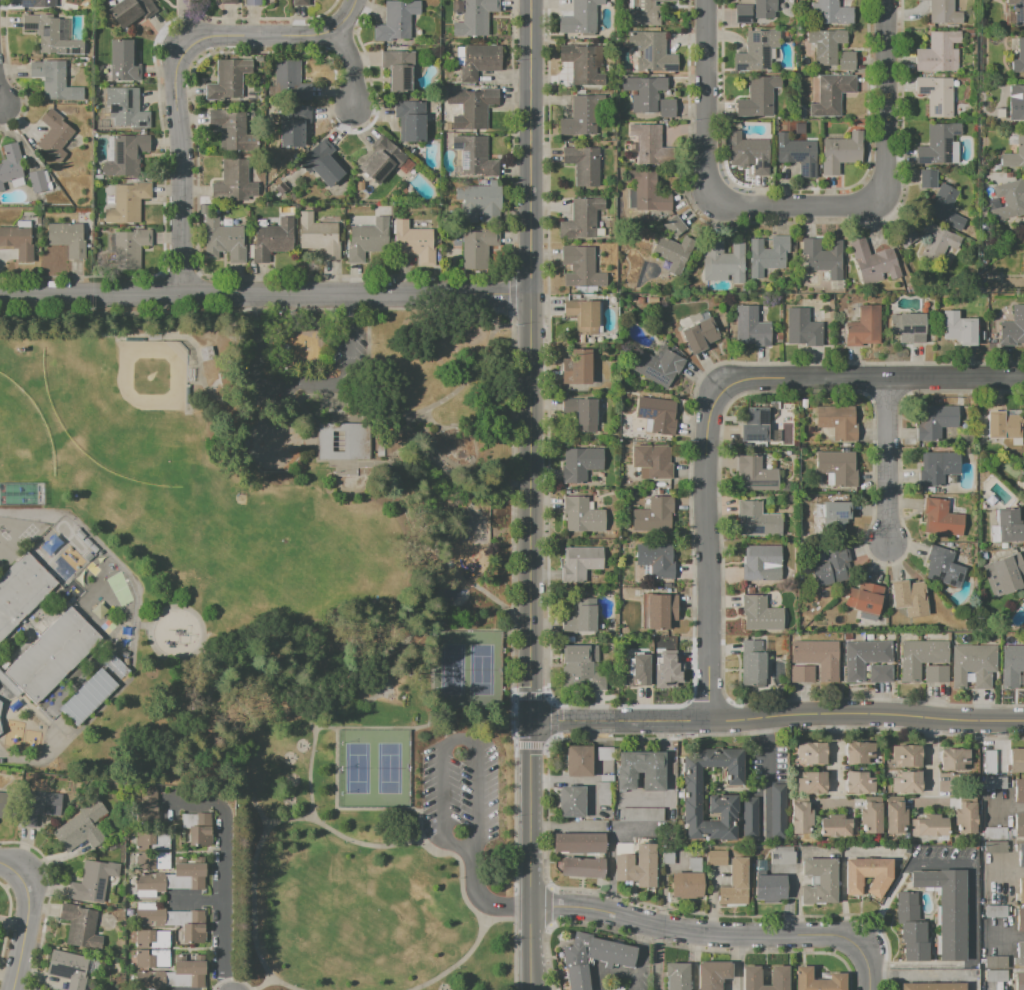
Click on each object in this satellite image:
building: (229, 1)
building: (253, 2)
building: (34, 3)
building: (300, 3)
building: (764, 9)
building: (131, 11)
building: (644, 13)
building: (743, 13)
building: (831, 13)
building: (945, 13)
building: (1017, 13)
building: (474, 17)
building: (580, 17)
building: (396, 22)
building: (52, 35)
building: (826, 45)
building: (756, 51)
building: (652, 53)
building: (938, 53)
building: (1017, 54)
building: (847, 60)
building: (480, 61)
building: (123, 62)
building: (584, 65)
road: (349, 66)
building: (398, 70)
road: (175, 76)
building: (228, 79)
building: (51, 81)
building: (289, 82)
building: (644, 93)
building: (832, 94)
building: (937, 95)
building: (758, 97)
road: (883, 99)
building: (1017, 99)
road: (0, 101)
building: (125, 108)
building: (471, 108)
building: (668, 108)
building: (76, 114)
building: (580, 116)
building: (410, 123)
building: (294, 128)
building: (228, 129)
building: (54, 135)
building: (937, 143)
building: (1020, 143)
building: (650, 145)
building: (841, 152)
building: (749, 153)
building: (797, 154)
building: (127, 156)
building: (474, 157)
building: (385, 161)
building: (11, 163)
building: (325, 163)
building: (583, 165)
road: (710, 177)
building: (927, 179)
building: (37, 181)
building: (231, 182)
building: (646, 192)
building: (1008, 199)
building: (478, 201)
building: (128, 204)
building: (944, 208)
building: (580, 221)
building: (674, 227)
building: (318, 236)
building: (906, 237)
building: (67, 238)
building: (272, 239)
building: (367, 240)
building: (224, 241)
building: (17, 242)
building: (414, 243)
building: (936, 243)
building: (478, 248)
building: (131, 249)
building: (674, 252)
building: (769, 256)
building: (824, 257)
building: (723, 263)
building: (874, 263)
building: (581, 267)
road: (512, 294)
road: (265, 295)
road: (511, 313)
building: (583, 315)
road: (497, 317)
building: (750, 327)
building: (866, 328)
building: (909, 328)
building: (1012, 328)
building: (803, 329)
building: (959, 329)
building: (697, 332)
parking lot: (348, 348)
building: (206, 353)
road: (530, 360)
building: (577, 367)
building: (660, 368)
road: (200, 377)
road: (875, 378)
building: (225, 379)
road: (213, 386)
road: (296, 387)
road: (511, 396)
road: (334, 398)
park: (121, 404)
building: (581, 413)
building: (656, 414)
building: (836, 421)
building: (936, 421)
building: (1002, 424)
building: (755, 426)
road: (316, 438)
park: (22, 439)
building: (343, 441)
building: (652, 460)
road: (887, 460)
road: (344, 462)
building: (579, 464)
building: (837, 466)
building: (937, 468)
flagpole: (334, 472)
building: (756, 473)
road: (431, 478)
building: (582, 515)
building: (653, 516)
building: (835, 517)
building: (942, 518)
building: (757, 519)
building: (1009, 525)
park: (267, 531)
road: (706, 550)
building: (656, 559)
road: (437, 564)
building: (579, 564)
building: (762, 564)
building: (943, 567)
building: (830, 568)
building: (1007, 572)
park: (118, 588)
building: (21, 590)
road: (490, 597)
building: (865, 598)
building: (910, 601)
road: (136, 610)
park: (304, 611)
building: (658, 611)
building: (759, 612)
road: (154, 618)
building: (580, 618)
road: (143, 625)
road: (415, 630)
road: (470, 630)
building: (422, 637)
road: (214, 651)
building: (802, 652)
building: (878, 652)
building: (934, 652)
building: (53, 655)
building: (753, 659)
building: (826, 660)
building: (855, 661)
building: (910, 662)
building: (655, 664)
building: (961, 664)
building: (583, 665)
building: (983, 665)
building: (1011, 665)
building: (1023, 668)
park: (469, 669)
building: (634, 670)
building: (802, 674)
building: (880, 674)
building: (935, 674)
road: (298, 676)
road: (189, 681)
building: (9, 684)
building: (640, 690)
road: (512, 695)
road: (529, 695)
road: (545, 695)
building: (89, 696)
road: (549, 697)
road: (552, 703)
building: (0, 704)
road: (34, 708)
road: (469, 715)
road: (308, 720)
road: (552, 720)
traffic signals: (532, 721)
road: (778, 721)
road: (429, 725)
road: (363, 728)
road: (450, 729)
road: (552, 738)
road: (457, 740)
road: (550, 743)
road: (528, 745)
road: (544, 745)
road: (766, 747)
building: (812, 752)
building: (858, 752)
building: (604, 753)
building: (906, 756)
road: (933, 756)
road: (837, 759)
building: (954, 759)
building: (578, 760)
building: (1016, 760)
road: (20, 762)
building: (989, 762)
park: (372, 770)
building: (640, 771)
building: (605, 778)
road: (667, 779)
building: (859, 782)
building: (905, 782)
building: (995, 782)
building: (811, 783)
building: (692, 790)
building: (1019, 790)
building: (603, 793)
parking lot: (460, 794)
building: (571, 801)
building: (153, 804)
building: (5, 805)
building: (39, 806)
road: (256, 807)
road: (1004, 807)
building: (776, 810)
building: (640, 814)
building: (870, 814)
building: (894, 814)
building: (965, 816)
building: (748, 818)
building: (800, 818)
building: (1018, 824)
road: (420, 825)
building: (837, 825)
building: (928, 825)
building: (81, 827)
building: (198, 828)
building: (994, 832)
building: (153, 838)
road: (262, 838)
road: (22, 843)
building: (578, 843)
building: (995, 846)
building: (763, 852)
building: (1021, 854)
road: (532, 855)
building: (781, 856)
building: (666, 857)
building: (717, 857)
building: (153, 861)
building: (694, 863)
building: (635, 864)
building: (581, 866)
building: (759, 866)
road: (32, 868)
road: (1003, 871)
road: (461, 872)
building: (866, 875)
building: (171, 880)
building: (819, 880)
building: (92, 881)
road: (224, 882)
building: (734, 883)
building: (686, 885)
road: (969, 885)
building: (769, 887)
building: (1020, 888)
road: (481, 900)
road: (197, 902)
building: (907, 906)
building: (946, 908)
building: (994, 912)
road: (500, 919)
building: (1020, 919)
building: (172, 920)
road: (26, 921)
building: (80, 927)
building: (912, 931)
road: (696, 934)
road: (1020, 937)
building: (152, 939)
building: (916, 951)
building: (1020, 953)
road: (1017, 956)
building: (592, 957)
building: (152, 958)
building: (996, 962)
road: (457, 964)
road: (868, 967)
building: (67, 968)
building: (712, 974)
building: (172, 976)
building: (677, 976)
building: (778, 976)
building: (995, 976)
building: (816, 980)
building: (1019, 981)
road: (1000, 984)
road: (264, 985)
building: (929, 985)

